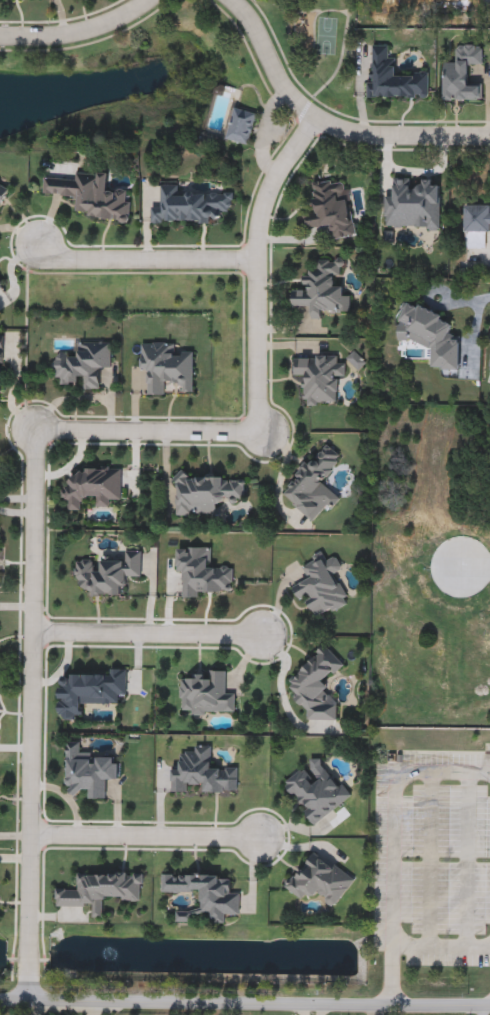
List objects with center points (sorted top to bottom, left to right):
road: (79, 31)
building: (462, 75)
building: (394, 78)
road: (329, 125)
building: (240, 126)
building: (3, 193)
building: (91, 195)
building: (404, 201)
building: (191, 206)
building: (331, 208)
building: (476, 225)
road: (138, 256)
road: (255, 270)
building: (1, 284)
building: (321, 289)
building: (1, 351)
building: (83, 365)
building: (166, 367)
building: (318, 378)
road: (149, 429)
building: (314, 483)
building: (91, 487)
building: (207, 494)
road: (478, 564)
building: (202, 572)
building: (107, 574)
building: (321, 586)
road: (152, 633)
building: (317, 685)
building: (87, 692)
building: (205, 696)
road: (34, 712)
building: (88, 772)
building: (201, 773)
building: (316, 793)
road: (146, 839)
road: (393, 846)
road: (430, 860)
road: (467, 861)
building: (320, 880)
building: (99, 890)
building: (203, 896)
road: (441, 947)
road: (244, 1002)
road: (34, 1005)
road: (102, 1007)
road: (311, 1009)
road: (373, 1010)
road: (482, 1010)

